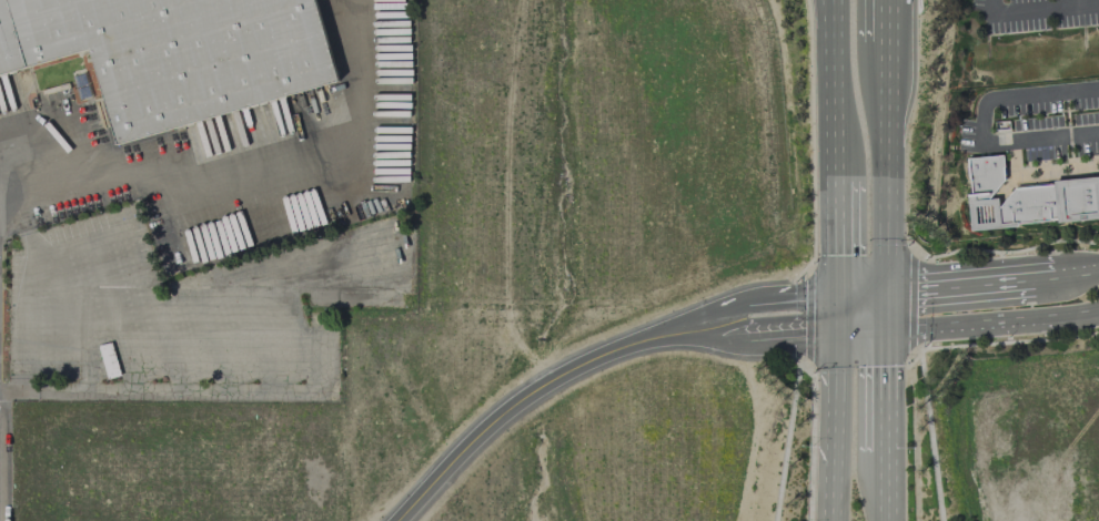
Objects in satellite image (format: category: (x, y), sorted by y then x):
road: (1038, 9)
parking lot: (1035, 14)
road: (881, 21)
road: (889, 21)
road: (830, 38)
building: (174, 53)
road: (839, 91)
road: (982, 125)
road: (1068, 129)
parking lot: (1037, 130)
road: (1015, 156)
road: (1085, 164)
road: (880, 165)
road: (250, 167)
road: (1028, 170)
building: (1027, 198)
road: (838, 236)
road: (1005, 252)
road: (1076, 273)
road: (1043, 276)
road: (957, 283)
road: (859, 289)
road: (815, 294)
road: (913, 302)
road: (738, 307)
road: (880, 309)
road: (838, 313)
road: (806, 316)
road: (1069, 316)
road: (938, 326)
road: (763, 338)
road: (837, 355)
building: (108, 360)
road: (880, 390)
road: (524, 397)
road: (929, 431)
road: (787, 440)
road: (836, 449)
road: (881, 486)

